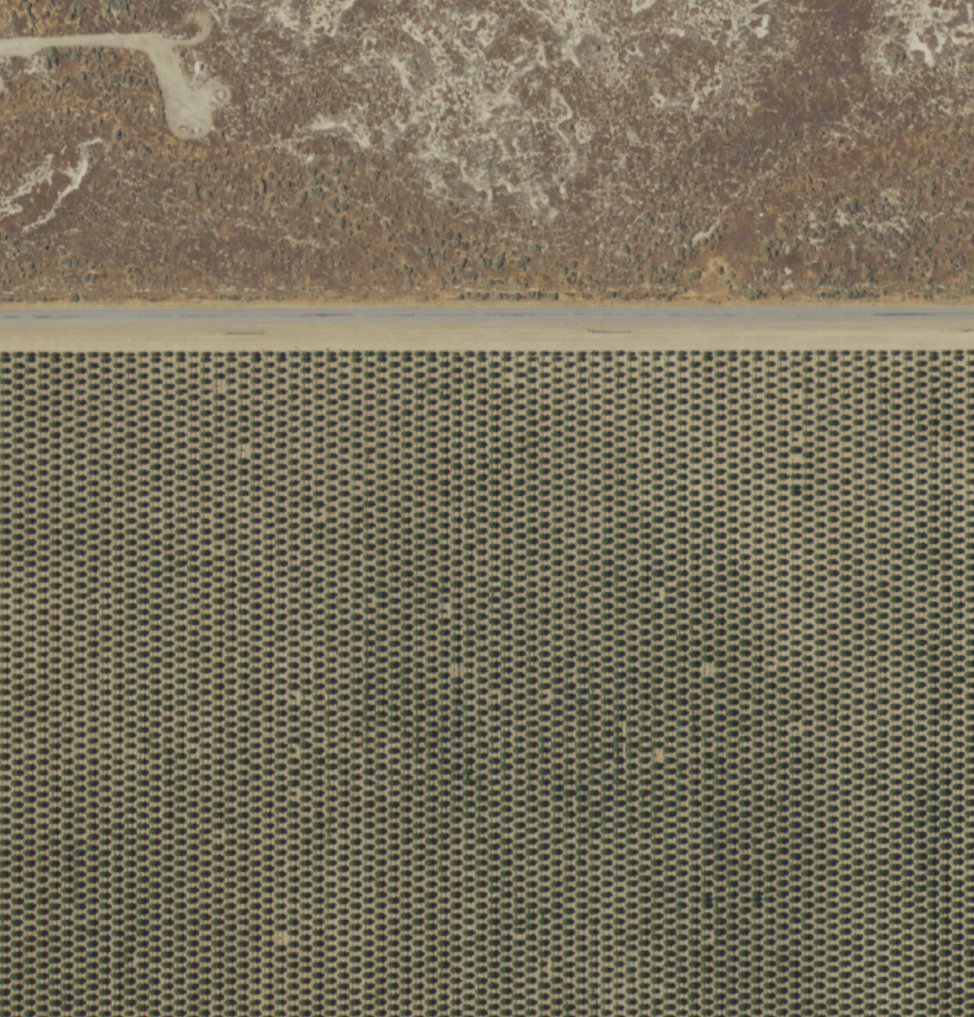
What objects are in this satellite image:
road: (487, 312)

